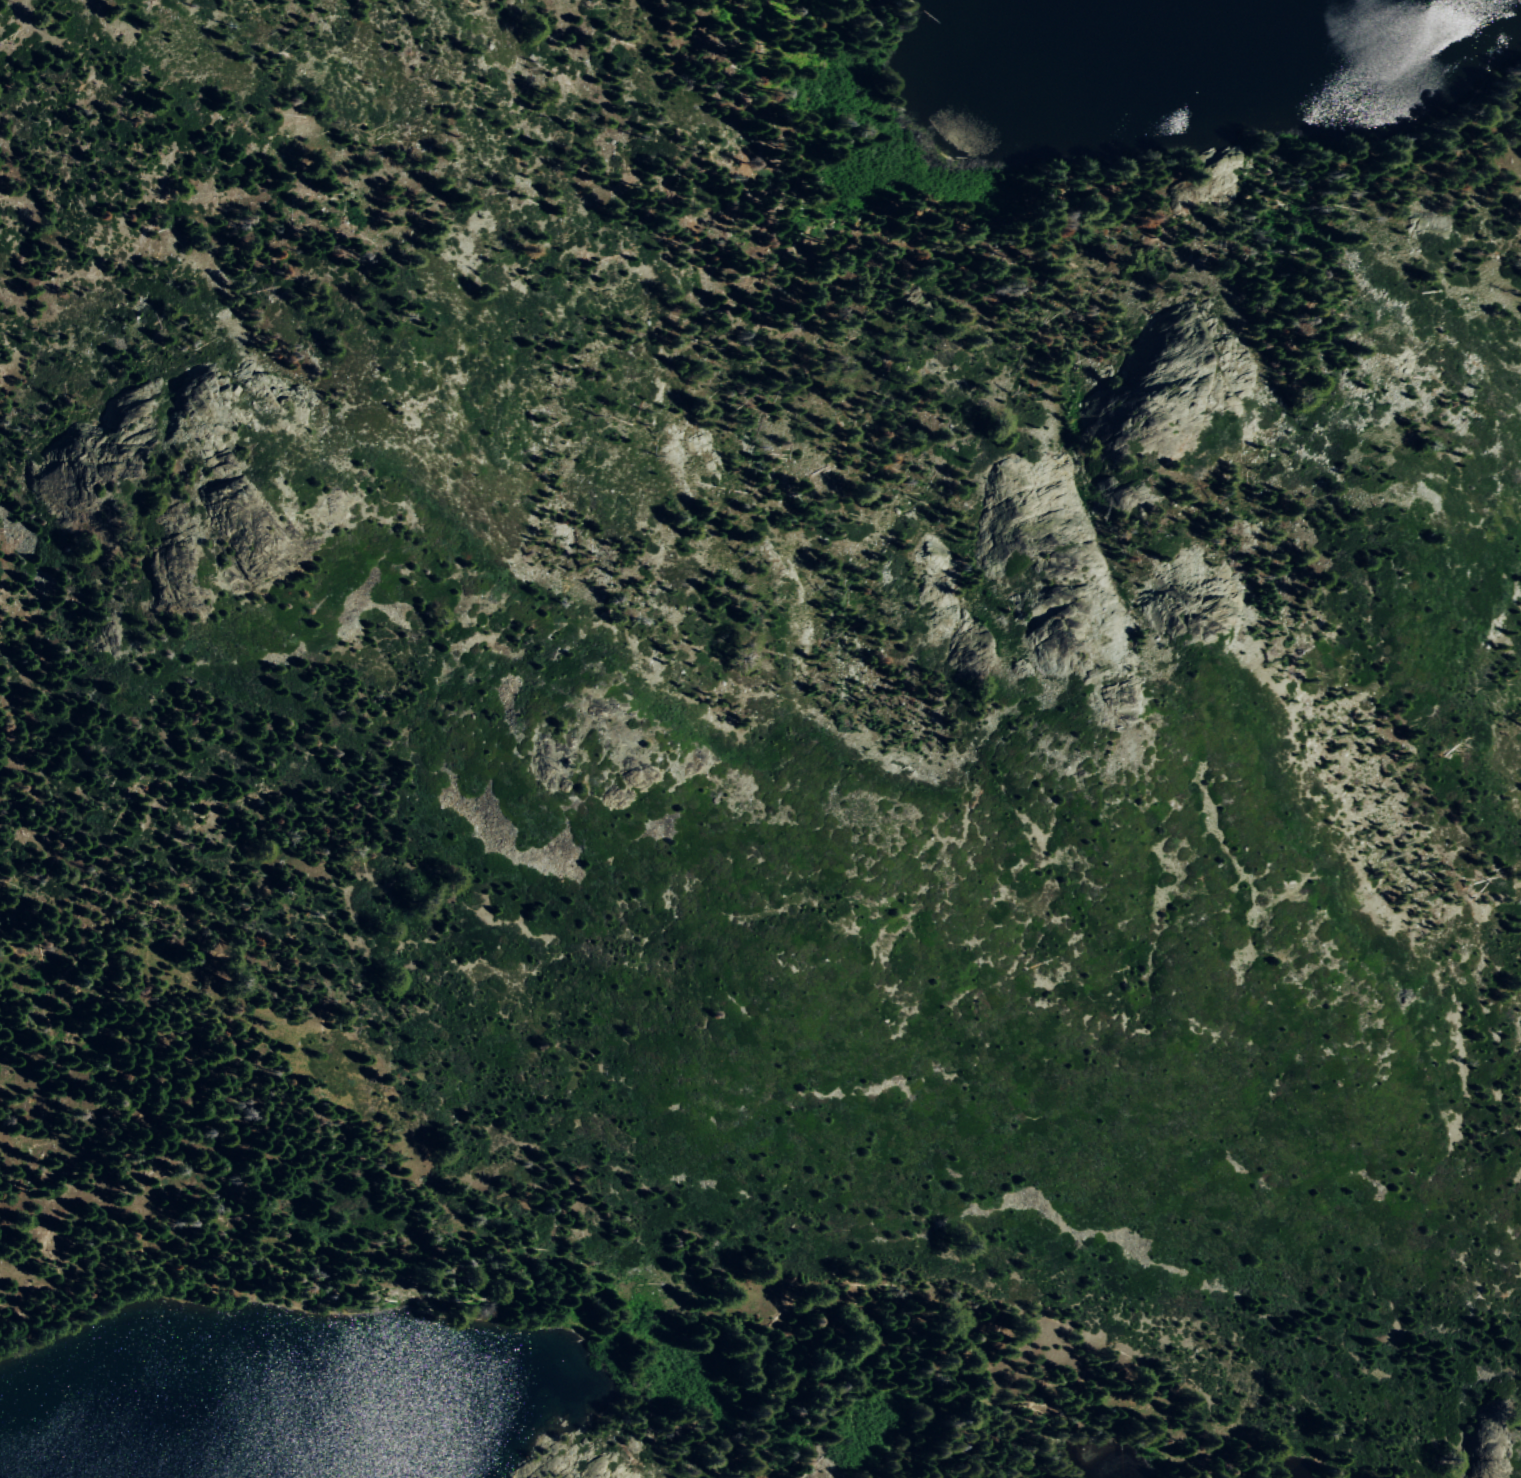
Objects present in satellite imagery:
road: (18, 1179)

